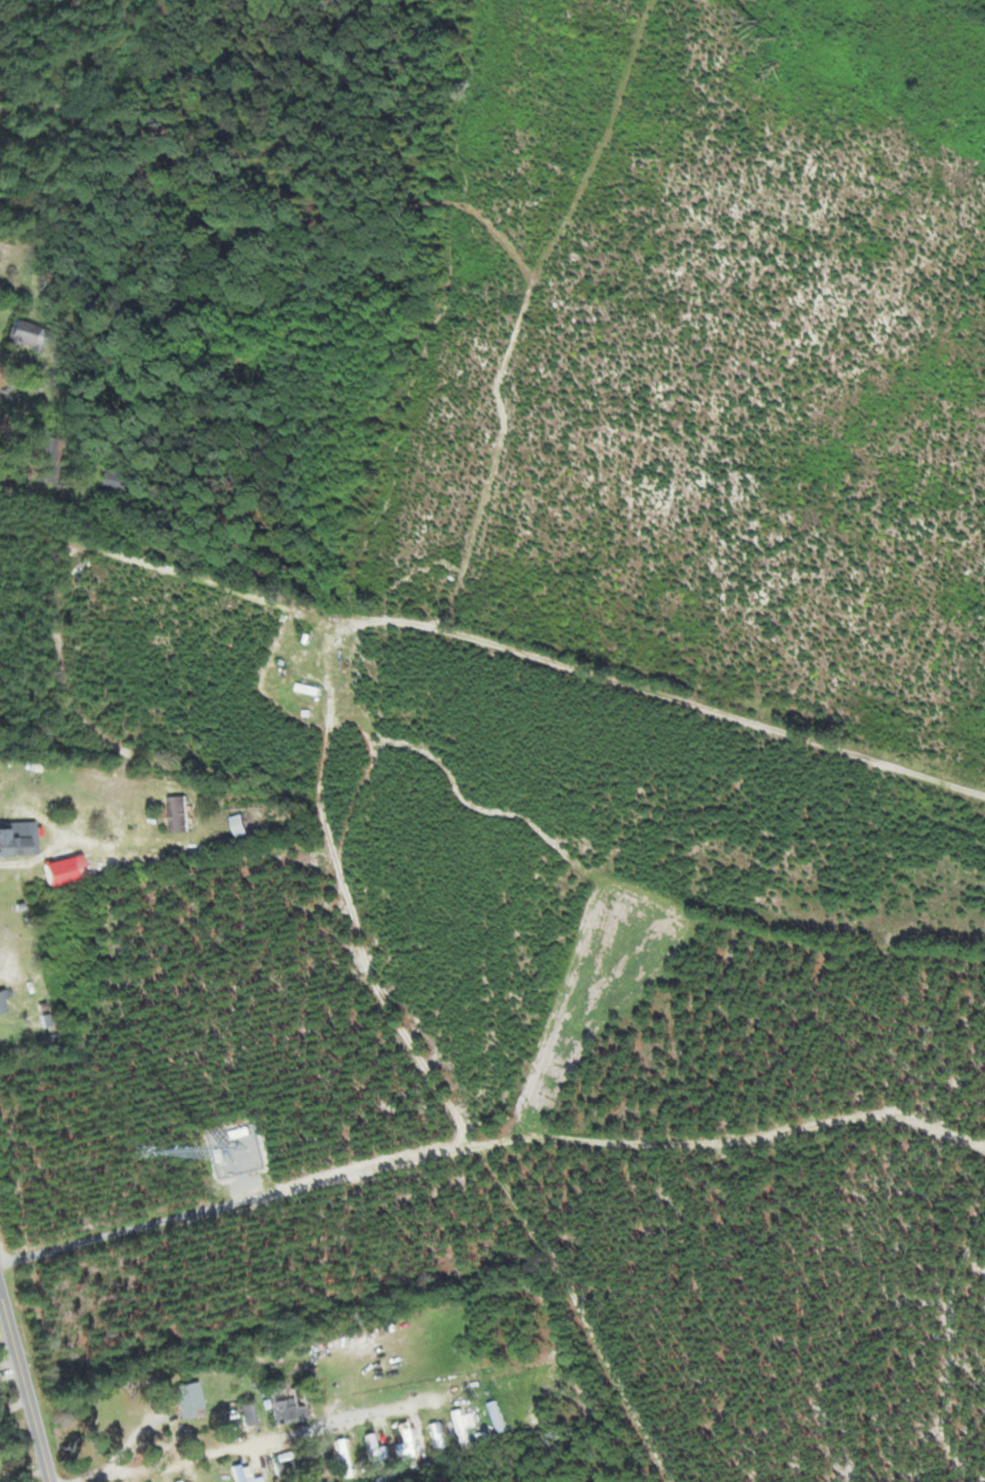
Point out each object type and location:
building: (26, 334)
building: (36, 458)
building: (120, 479)
building: (308, 687)
building: (177, 818)
building: (4, 841)
building: (3, 1000)
road: (1, 1284)
road: (26, 1376)
building: (187, 1397)
building: (289, 1404)
building: (250, 1412)
building: (467, 1421)
building: (437, 1433)
road: (258, 1437)
building: (407, 1439)
building: (372, 1440)
building: (344, 1456)
building: (284, 1464)
building: (242, 1472)
building: (181, 1480)

